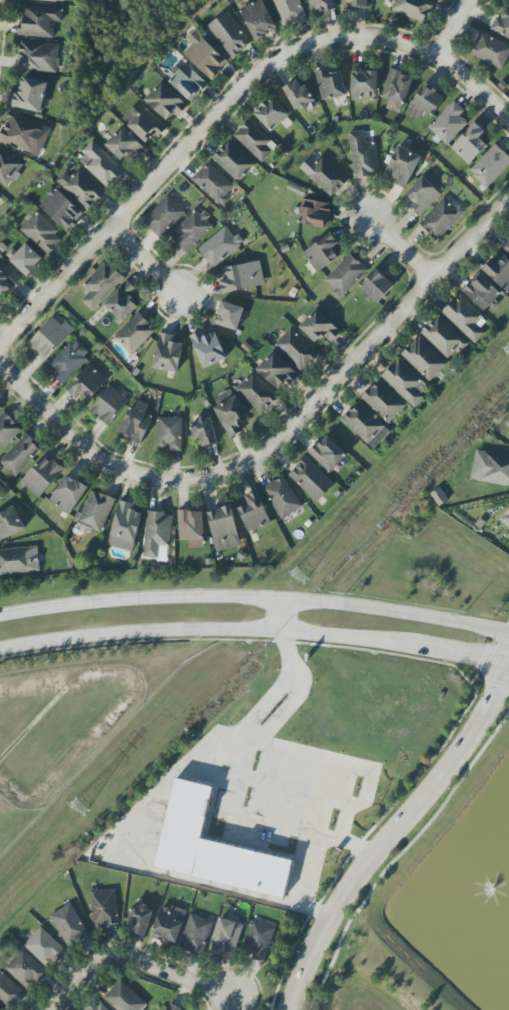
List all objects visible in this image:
building: (50, 0)
building: (354, 3)
building: (321, 5)
building: (413, 8)
building: (289, 11)
building: (258, 18)
building: (38, 21)
building: (502, 24)
road: (451, 28)
building: (229, 34)
building: (491, 50)
building: (204, 56)
building: (38, 57)
road: (448, 64)
building: (187, 81)
building: (364, 83)
building: (331, 84)
building: (396, 90)
building: (297, 94)
building: (29, 95)
building: (427, 100)
building: (165, 101)
building: (271, 114)
building: (449, 123)
building: (144, 124)
building: (24, 134)
building: (254, 141)
building: (470, 143)
building: (124, 144)
building: (363, 156)
building: (234, 161)
road: (169, 162)
building: (101, 165)
building: (402, 166)
building: (490, 166)
building: (8, 168)
building: (324, 175)
building: (213, 183)
building: (81, 188)
building: (422, 195)
building: (60, 209)
building: (314, 213)
building: (164, 216)
building: (441, 218)
building: (191, 231)
building: (41, 233)
building: (219, 246)
road: (400, 247)
building: (506, 248)
building: (323, 253)
building: (26, 259)
road: (144, 260)
building: (499, 273)
building: (345, 276)
building: (241, 277)
building: (7, 280)
building: (100, 285)
building: (377, 285)
building: (482, 293)
building: (122, 302)
building: (0, 303)
building: (229, 316)
building: (465, 318)
building: (319, 327)
building: (134, 334)
building: (444, 337)
building: (50, 338)
building: (208, 349)
building: (295, 349)
building: (167, 354)
building: (424, 359)
building: (69, 361)
building: (276, 371)
building: (405, 382)
building: (87, 384)
building: (256, 393)
building: (383, 401)
building: (108, 405)
building: (0, 408)
building: (230, 413)
building: (136, 422)
building: (365, 425)
building: (507, 425)
building: (7, 430)
building: (204, 431)
building: (169, 434)
road: (281, 436)
building: (20, 455)
building: (328, 455)
building: (491, 468)
building: (42, 475)
building: (311, 479)
building: (68, 494)
building: (1, 496)
building: (282, 497)
building: (96, 511)
building: (254, 512)
building: (505, 519)
building: (10, 523)
building: (125, 527)
building: (191, 528)
building: (224, 528)
building: (157, 535)
building: (19, 561)
power tower: (302, 580)
road: (256, 595)
road: (135, 630)
road: (342, 634)
road: (461, 651)
power tower: (77, 808)
road: (380, 819)
road: (390, 834)
building: (212, 848)
road: (399, 855)
building: (104, 908)
building: (140, 919)
building: (169, 924)
building: (69, 925)
building: (195, 934)
building: (226, 935)
building: (258, 941)
building: (44, 947)
road: (132, 962)
building: (25, 970)
building: (9, 992)
building: (124, 998)
road: (249, 1000)
building: (94, 1006)
building: (172, 1007)

